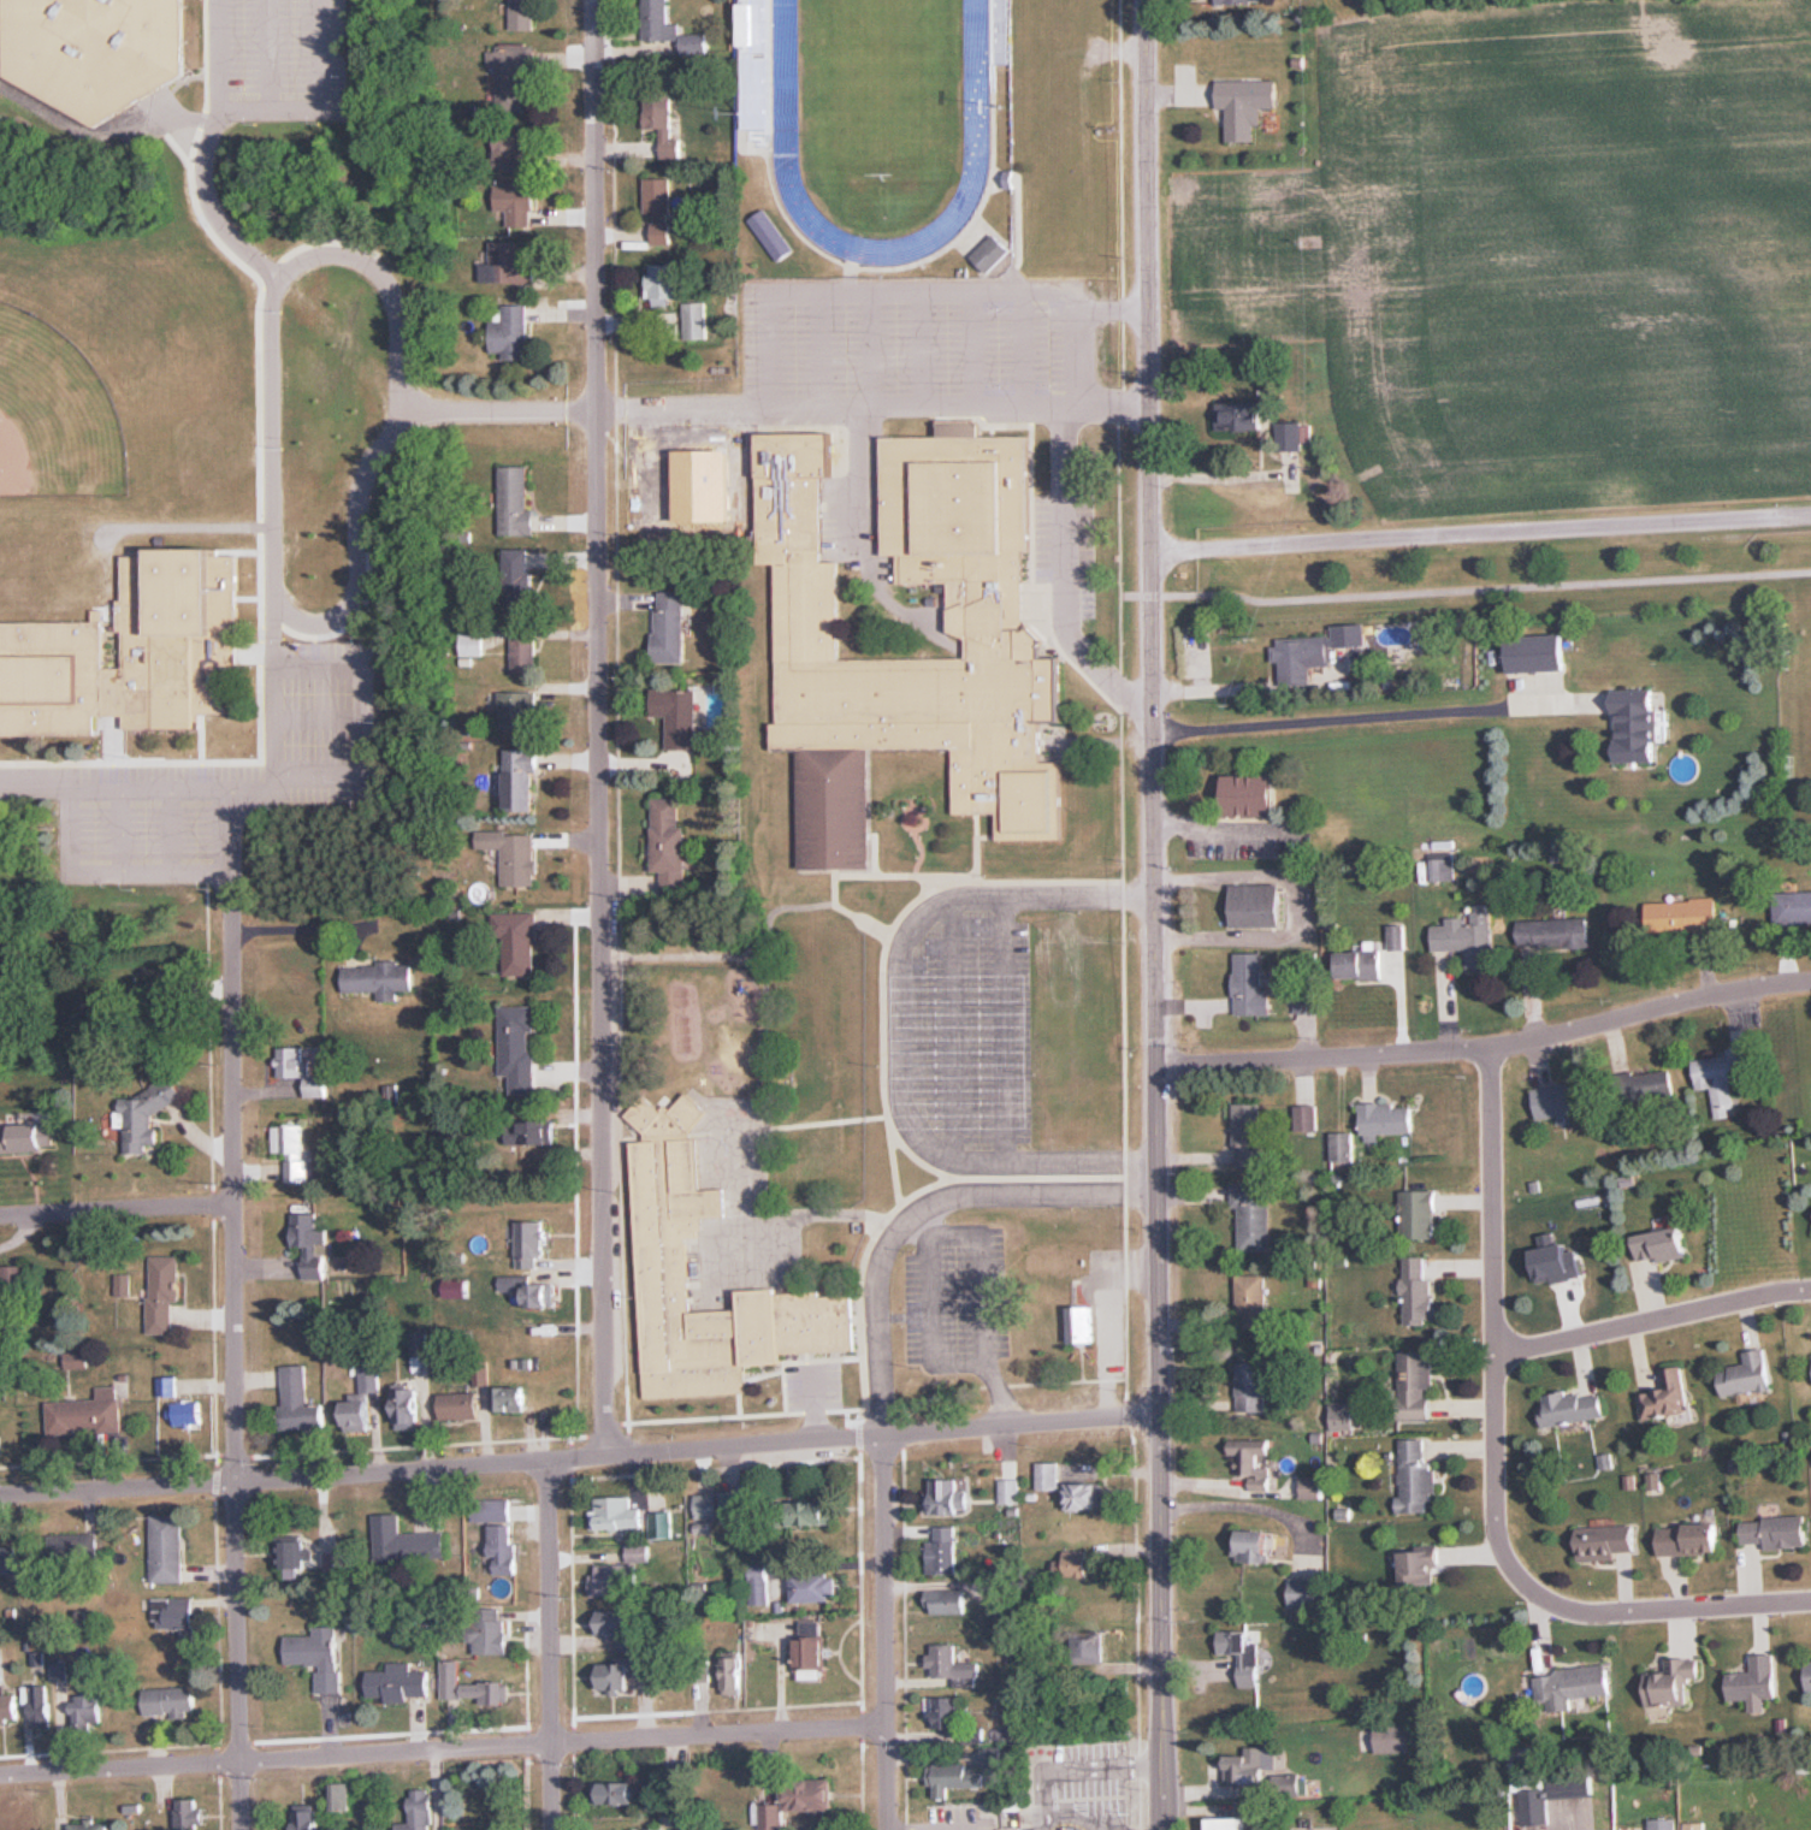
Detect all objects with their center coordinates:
building: (1238, 1)
building: (523, 14)
building: (659, 20)
building: (750, 23)
building: (95, 39)
building: (694, 43)
building: (514, 77)
track: (782, 77)
building: (756, 105)
building: (1247, 106)
building: (664, 125)
building: (516, 149)
building: (519, 203)
building: (661, 208)
building: (992, 253)
building: (509, 265)
building: (665, 284)
road: (911, 285)
road: (1108, 303)
building: (697, 319)
road: (244, 324)
building: (511, 331)
road: (827, 403)
building: (1243, 416)
building: (1292, 437)
road: (852, 473)
building: (516, 501)
road: (1060, 528)
road: (1480, 532)
park: (1523, 557)
building: (517, 575)
building: (673, 627)
building: (1001, 647)
building: (130, 652)
building: (1538, 652)
building: (526, 655)
building: (1303, 657)
building: (520, 710)
building: (680, 716)
road: (1345, 716)
road: (597, 726)
building: (1637, 726)
building: (522, 777)
building: (1254, 794)
building: (671, 846)
building: (514, 855)
building: (1257, 904)
road: (1297, 906)
building: (1793, 906)
road: (1154, 914)
building: (1682, 914)
building: (1555, 931)
building: (1468, 936)
building: (516, 943)
building: (1361, 964)
building: (379, 979)
building: (1251, 984)
building: (1308, 1002)
road: (870, 1008)
building: (519, 1047)
road: (1486, 1049)
building: (301, 1070)
building: (1724, 1076)
building: (1653, 1084)
building: (1560, 1102)
building: (144, 1115)
building: (1306, 1118)
building: (1386, 1119)
building: (535, 1131)
building: (34, 1135)
building: (1249, 1136)
building: (1343, 1147)
building: (294, 1151)
building: (521, 1166)
road: (117, 1208)
building: (1254, 1214)
building: (1419, 1214)
building: (532, 1238)
building: (313, 1243)
building: (1662, 1244)
building: (1037, 1260)
building: (664, 1263)
building: (13, 1284)
building: (1419, 1290)
building: (162, 1292)
building: (1253, 1292)
road: (1652, 1320)
building: (1082, 1322)
road: (1493, 1322)
road: (235, 1366)
building: (1747, 1373)
building: (1416, 1385)
building: (166, 1386)
building: (1253, 1386)
building: (515, 1396)
building: (1664, 1398)
building: (298, 1400)
building: (408, 1404)
building: (460, 1405)
building: (1573, 1408)
building: (359, 1411)
building: (88, 1413)
building: (188, 1413)
building: (1343, 1416)
road: (579, 1458)
building: (1253, 1461)
building: (1049, 1475)
building: (1415, 1476)
building: (1312, 1487)
building: (1011, 1491)
building: (951, 1496)
building: (1087, 1496)
building: (708, 1506)
building: (734, 1506)
building: (493, 1509)
building: (811, 1511)
building: (619, 1514)
building: (661, 1524)
building: (1775, 1533)
building: (1691, 1539)
building: (407, 1541)
building: (1606, 1541)
building: (73, 1545)
building: (1254, 1546)
building: (504, 1547)
building: (167, 1548)
building: (943, 1551)
building: (639, 1554)
building: (295, 1558)
building: (8, 1562)
building: (1076, 1564)
building: (1422, 1565)
building: (336, 1569)
building: (612, 1580)
building: (758, 1583)
building: (815, 1587)
building: (951, 1600)
road: (1665, 1609)
building: (173, 1613)
building: (617, 1624)
building: (489, 1629)
road: (883, 1631)
road: (550, 1647)
building: (307, 1650)
building: (1091, 1650)
building: (812, 1656)
building: (1242, 1656)
building: (952, 1662)
building: (616, 1676)
building: (734, 1676)
building: (1809, 1676)
building: (1754, 1680)
building: (330, 1683)
building: (401, 1683)
building: (1675, 1683)
building: (472, 1686)
building: (1573, 1686)
building: (170, 1701)
building: (8, 1707)
building: (943, 1711)
building: (85, 1712)
building: (41, 1714)
road: (717, 1736)
building: (1395, 1737)
road: (276, 1759)
building: (1248, 1767)
building: (954, 1781)
building: (620, 1793)
building: (811, 1794)
building: (343, 1795)
building: (1534, 1804)
building: (420, 1811)
building: (191, 1813)
building: (306, 1817)
building: (1237, 1818)
building: (1664, 1824)
building: (89, 1825)
building: (1694, 1825)
building: (1051, 1829)

